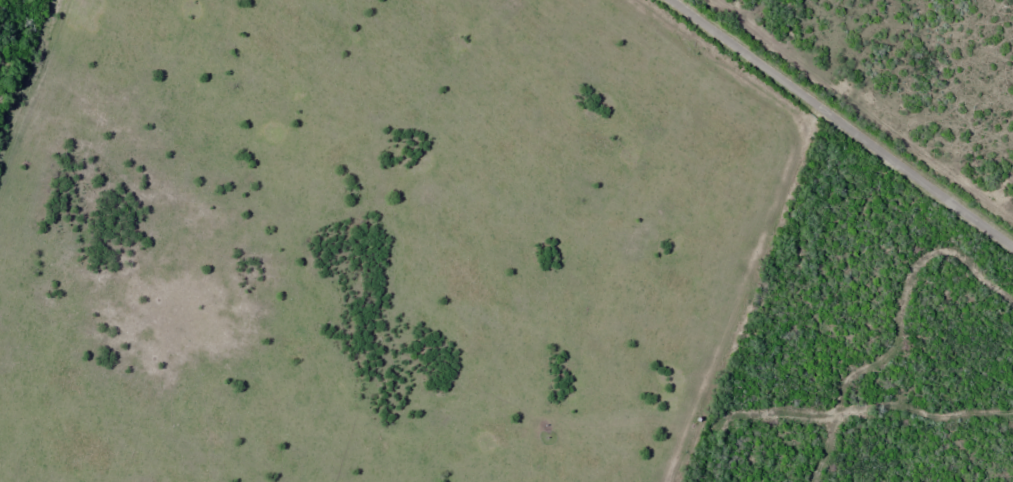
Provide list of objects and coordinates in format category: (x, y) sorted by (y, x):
road: (840, 125)

